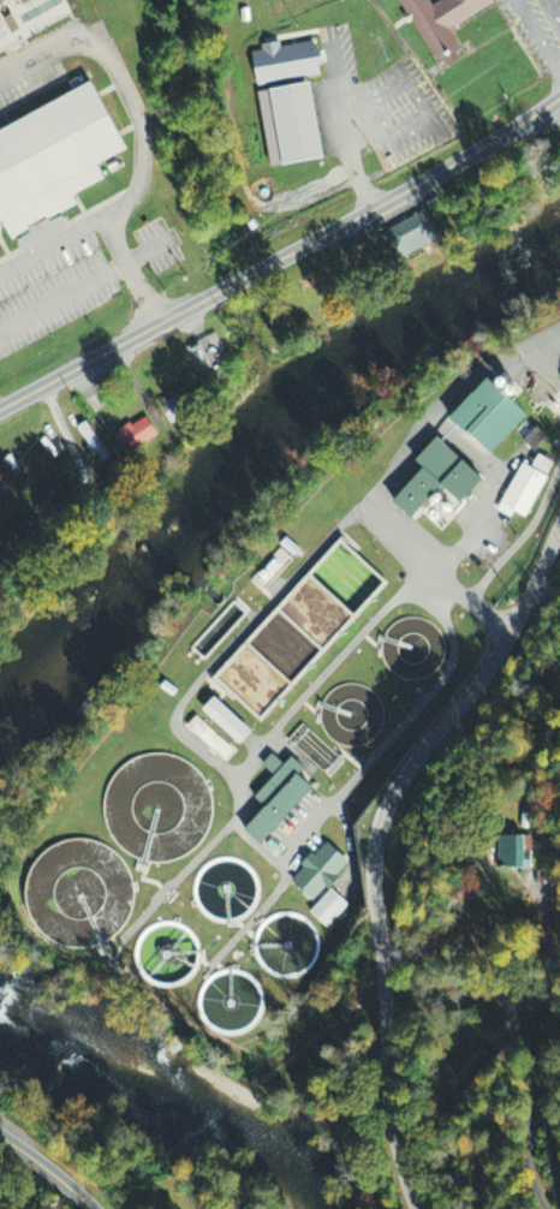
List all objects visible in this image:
building: (442, 22)
building: (288, 64)
building: (293, 126)
road: (141, 131)
building: (58, 154)
road: (65, 236)
building: (413, 236)
road: (148, 250)
road: (280, 252)
building: (316, 280)
road: (62, 298)
river: (412, 327)
building: (208, 357)
building: (177, 409)
building: (488, 412)
building: (138, 436)
building: (535, 436)
building: (541, 464)
building: (439, 476)
building: (1, 480)
building: (523, 488)
road: (320, 547)
road: (421, 561)
river: (137, 574)
building: (347, 578)
storage tank: (347, 578)
road: (544, 591)
building: (315, 612)
storage tank: (315, 612)
road: (499, 621)
building: (284, 645)
storage tank: (284, 645)
building: (412, 647)
storage tank: (412, 647)
building: (556, 662)
building: (252, 679)
storage tank: (252, 679)
wastewater plant: (286, 707)
building: (222, 710)
building: (351, 714)
storage tank: (351, 714)
building: (207, 729)
road: (267, 734)
building: (314, 749)
storage tank: (314, 749)
building: (275, 798)
building: (156, 805)
storage tank: (156, 805)
road: (375, 841)
building: (510, 851)
building: (317, 869)
building: (225, 888)
storage tank: (225, 888)
building: (78, 891)
storage tank: (78, 891)
building: (328, 904)
building: (286, 942)
storage tank: (286, 942)
building: (167, 954)
storage tank: (167, 954)
building: (230, 1001)
storage tank: (230, 1001)
building: (470, 1060)
river: (171, 1103)
road: (46, 1171)

